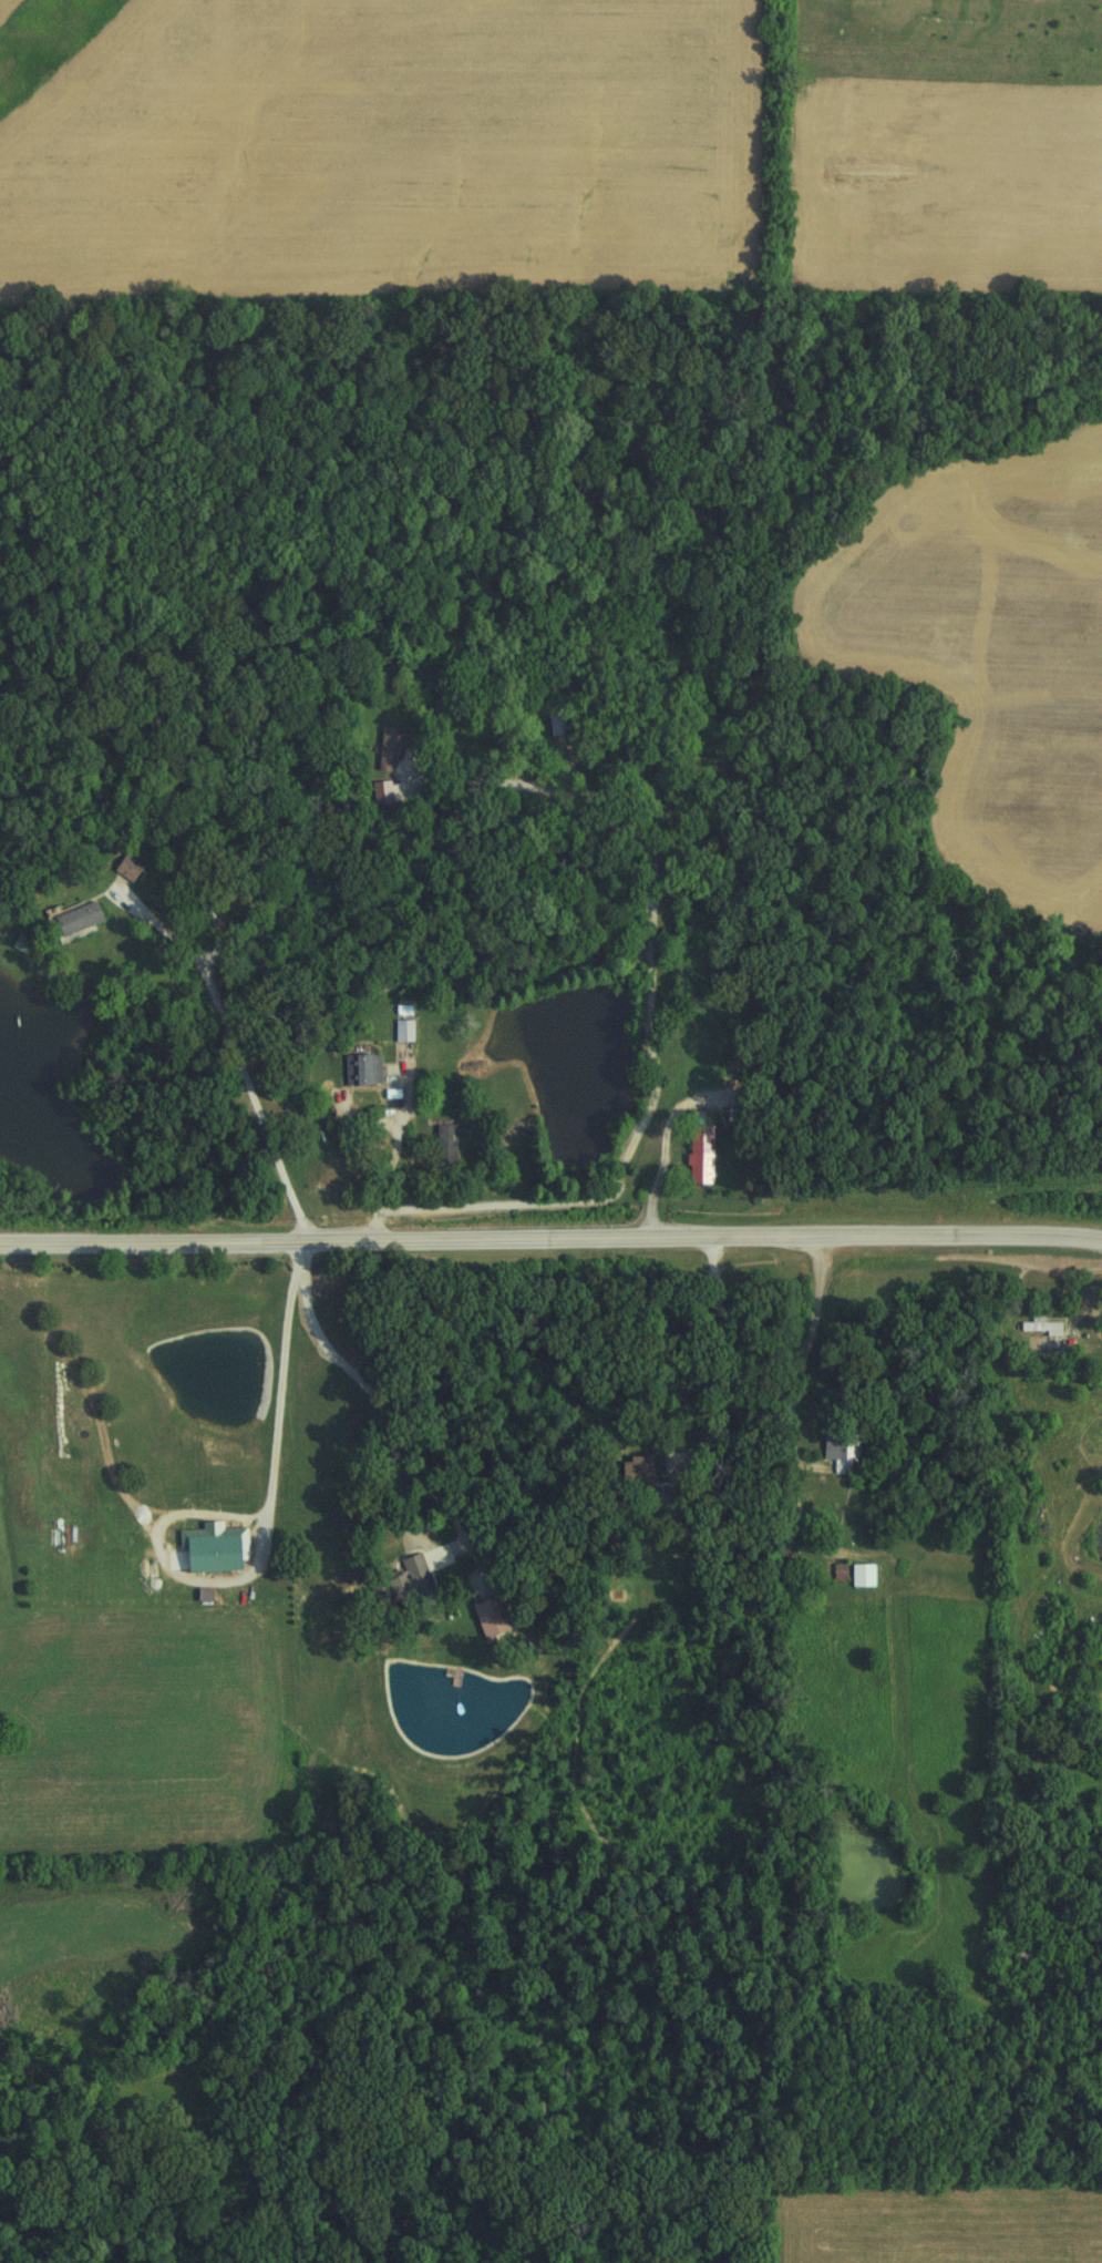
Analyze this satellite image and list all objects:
building: (562, 724)
building: (383, 745)
building: (123, 869)
building: (71, 922)
road: (649, 1007)
building: (396, 1031)
building: (359, 1068)
road: (465, 1143)
building: (442, 1144)
building: (694, 1154)
road: (282, 1190)
road: (550, 1239)
road: (821, 1320)
building: (1037, 1329)
building: (840, 1452)
road: (393, 1468)
building: (204, 1554)
building: (832, 1573)
building: (856, 1576)
building: (418, 1583)
building: (504, 1618)

